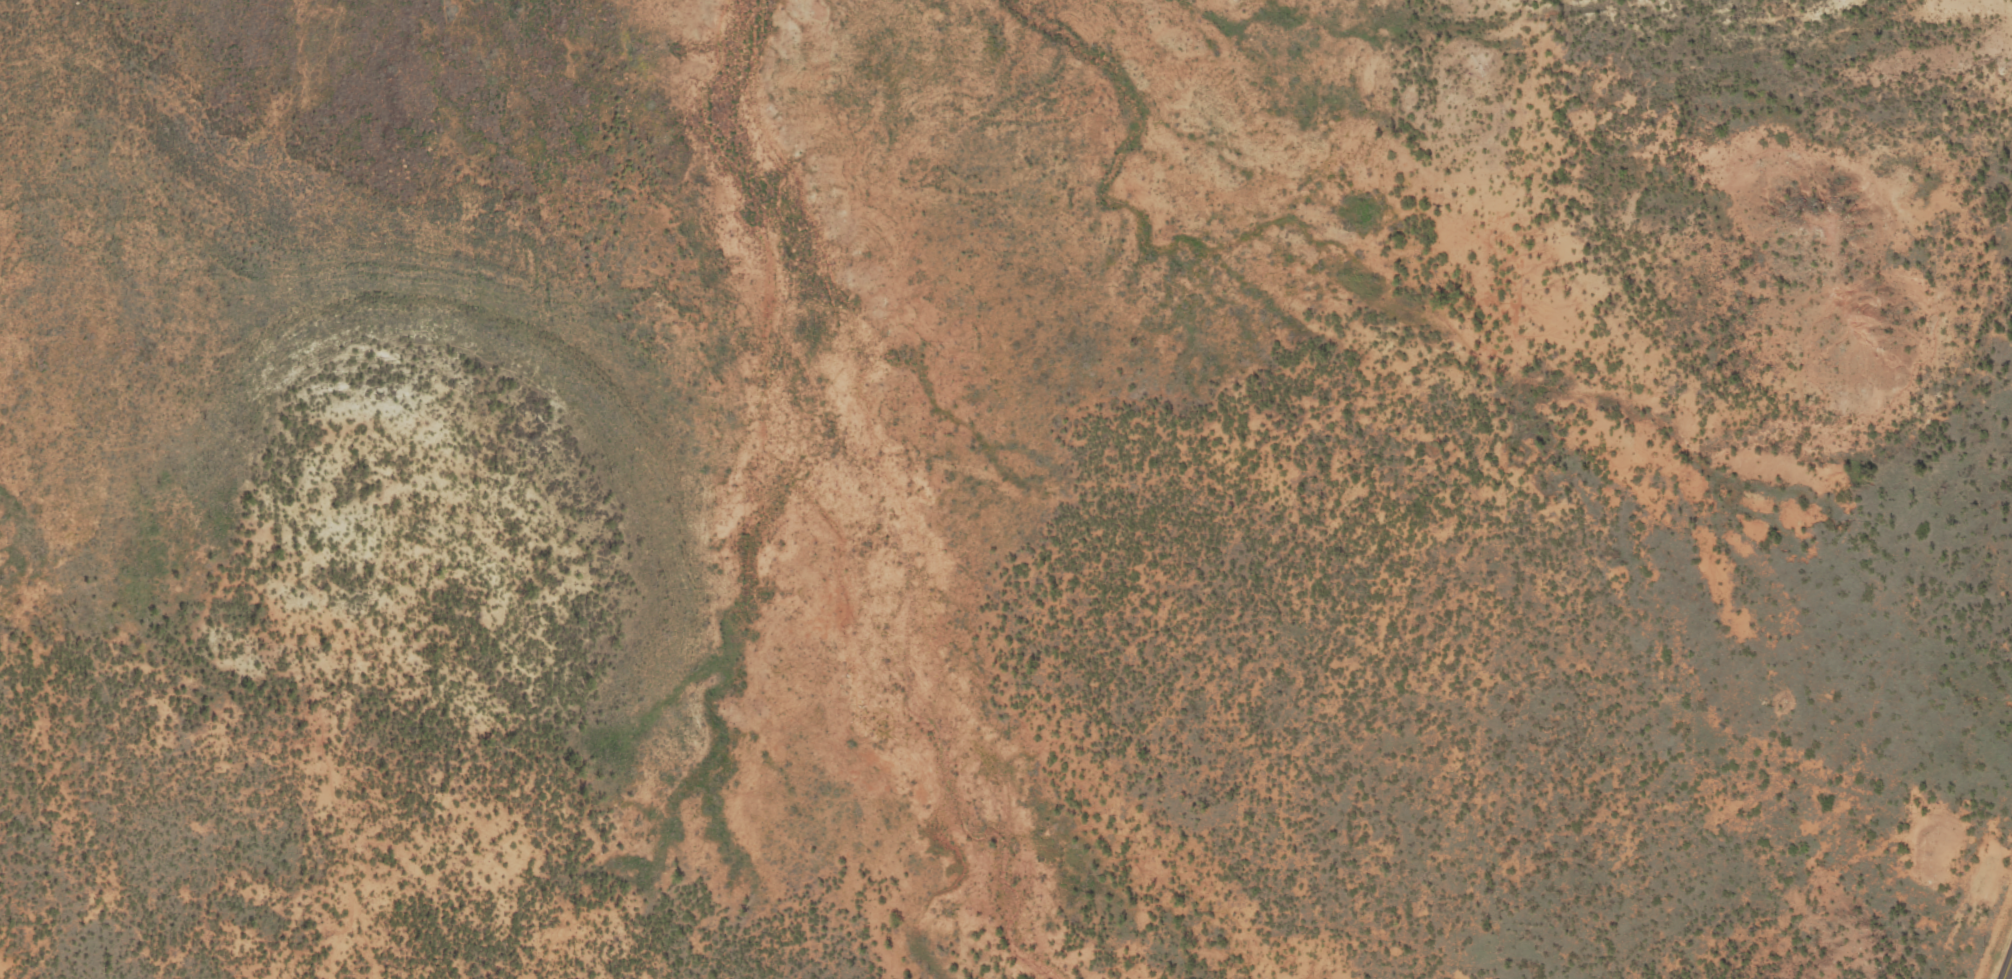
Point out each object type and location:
road: (1794, 39)
road: (2005, 961)

